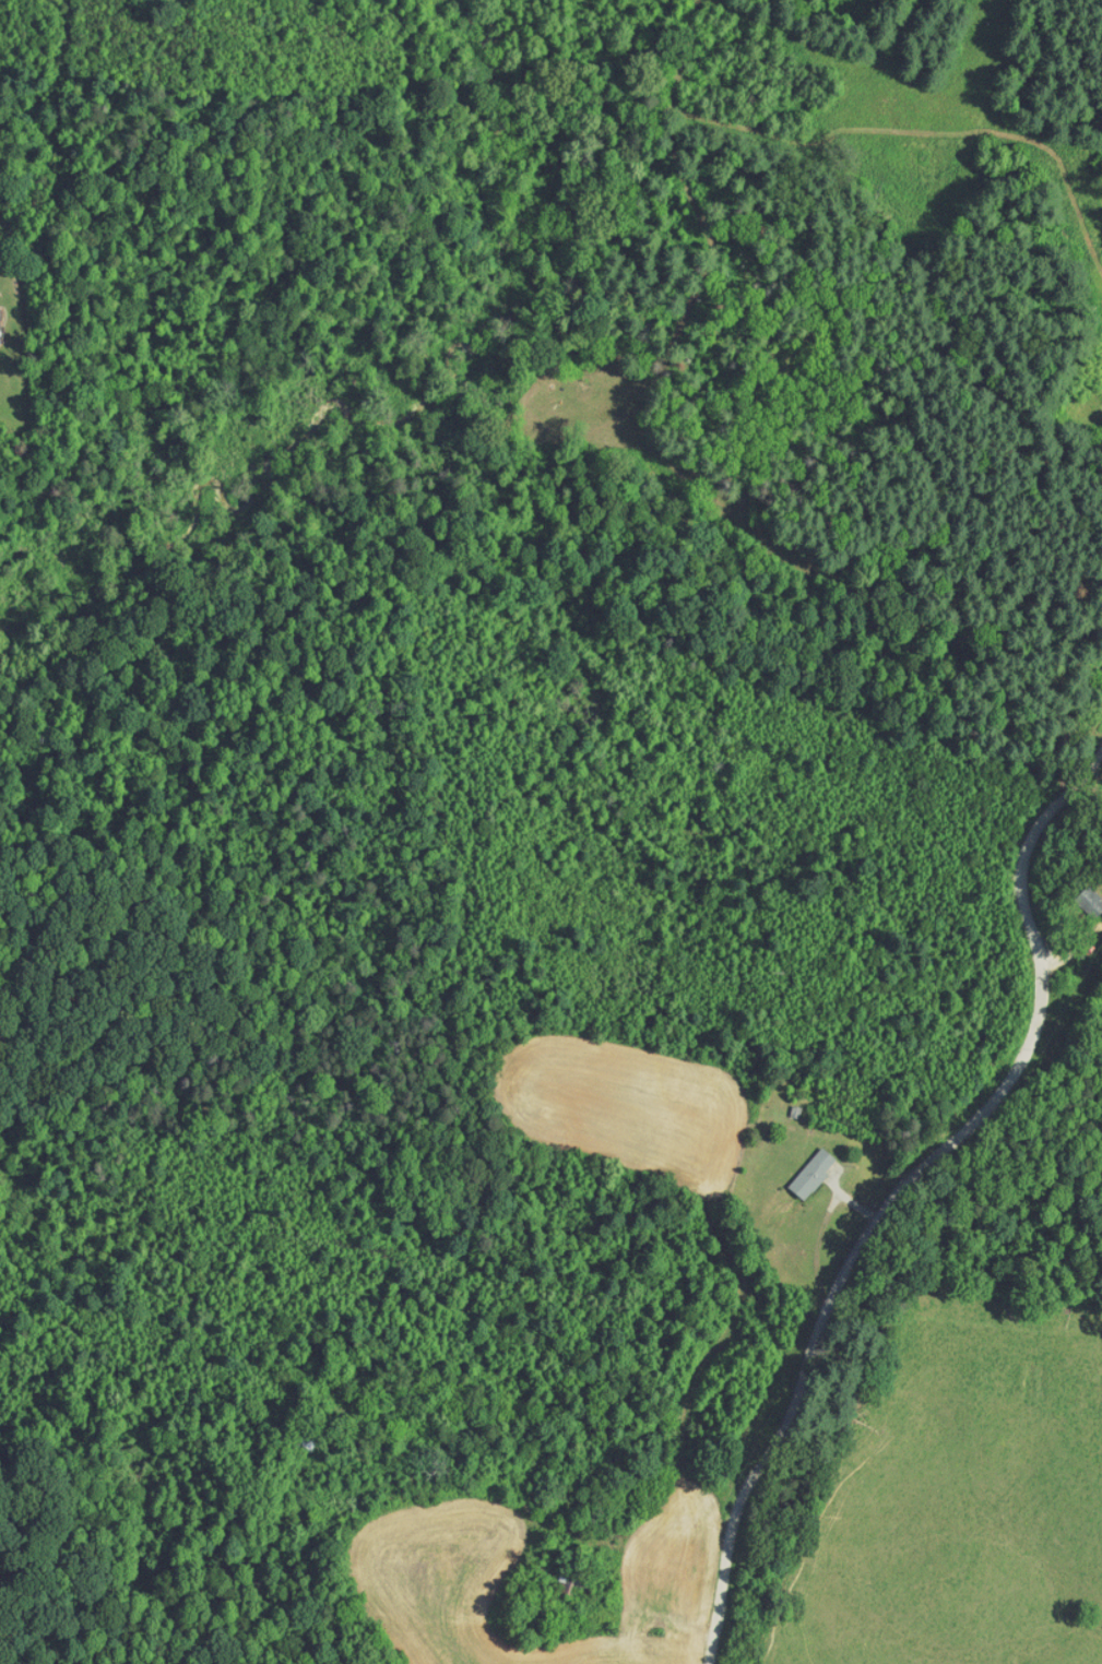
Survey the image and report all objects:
building: (1077, 893)
building: (798, 1166)
road: (900, 1190)

